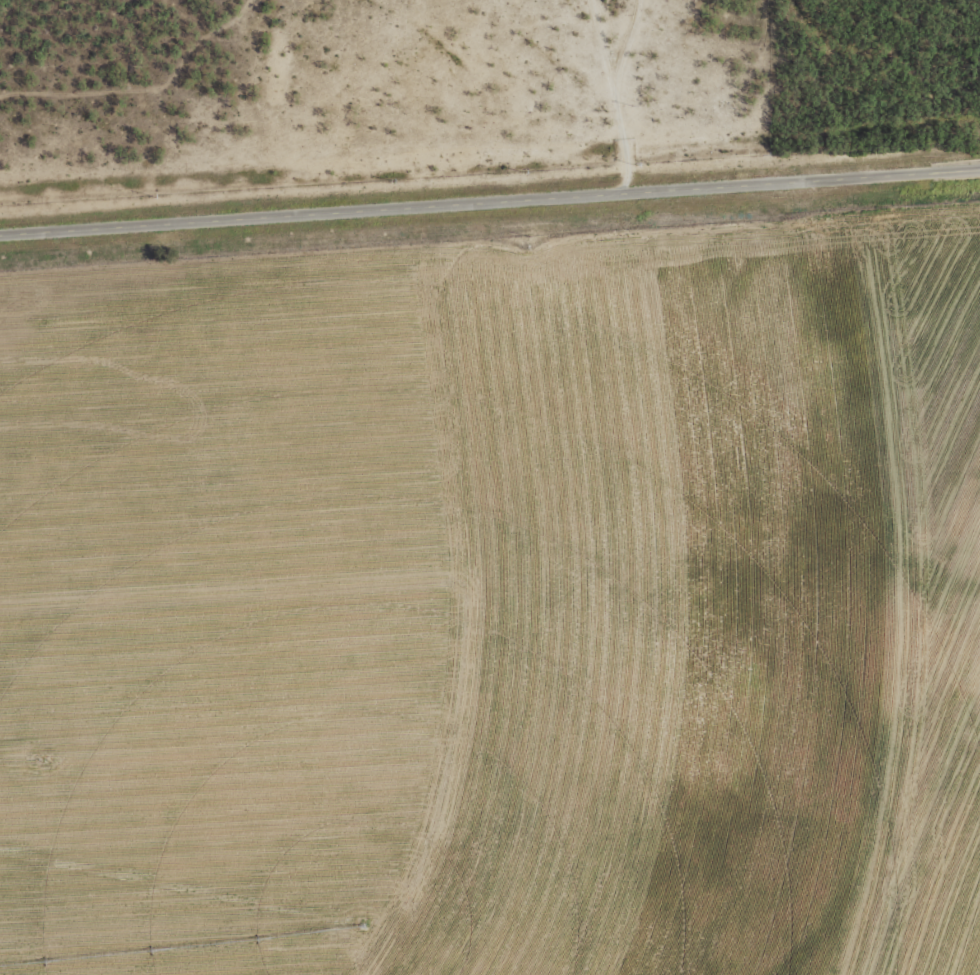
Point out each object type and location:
road: (624, 90)
railway: (490, 180)
road: (489, 207)

